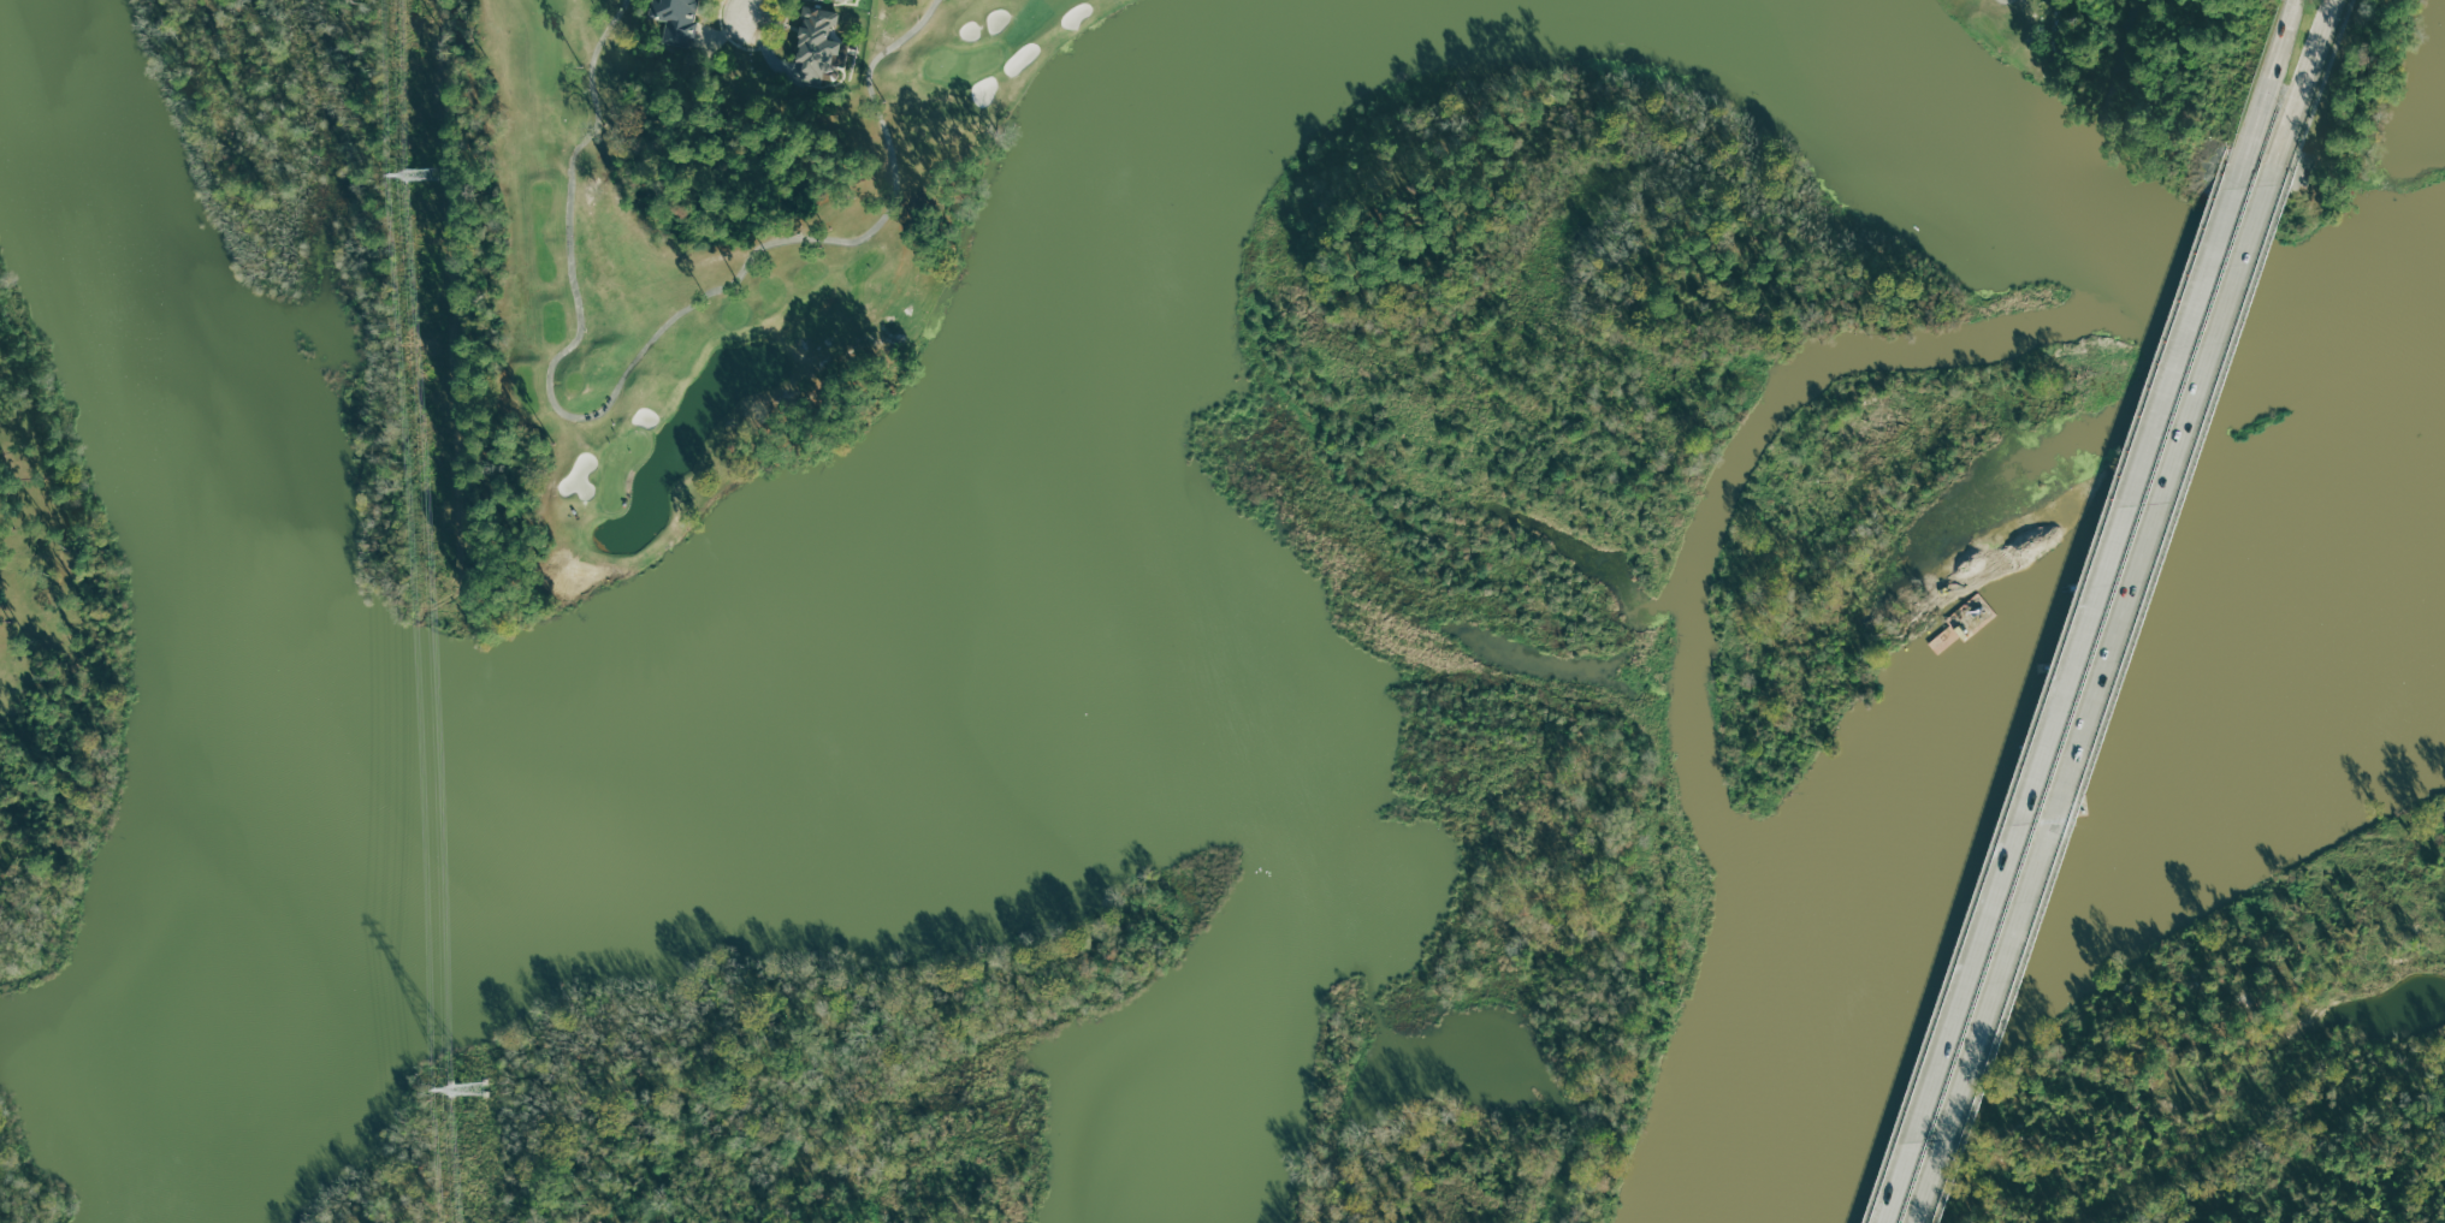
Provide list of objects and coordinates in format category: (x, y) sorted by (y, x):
road: (753, 6)
building: (676, 19)
building: (815, 43)
park: (1953, 43)
road: (751, 47)
road: (2298, 91)
road: (2319, 91)
road: (2266, 94)
power tower: (421, 173)
park: (775, 273)
road: (638, 356)
park: (12, 627)
road: (2109, 702)
road: (2092, 703)
road: (2059, 705)
river: (2026, 786)
power tower: (467, 1087)

